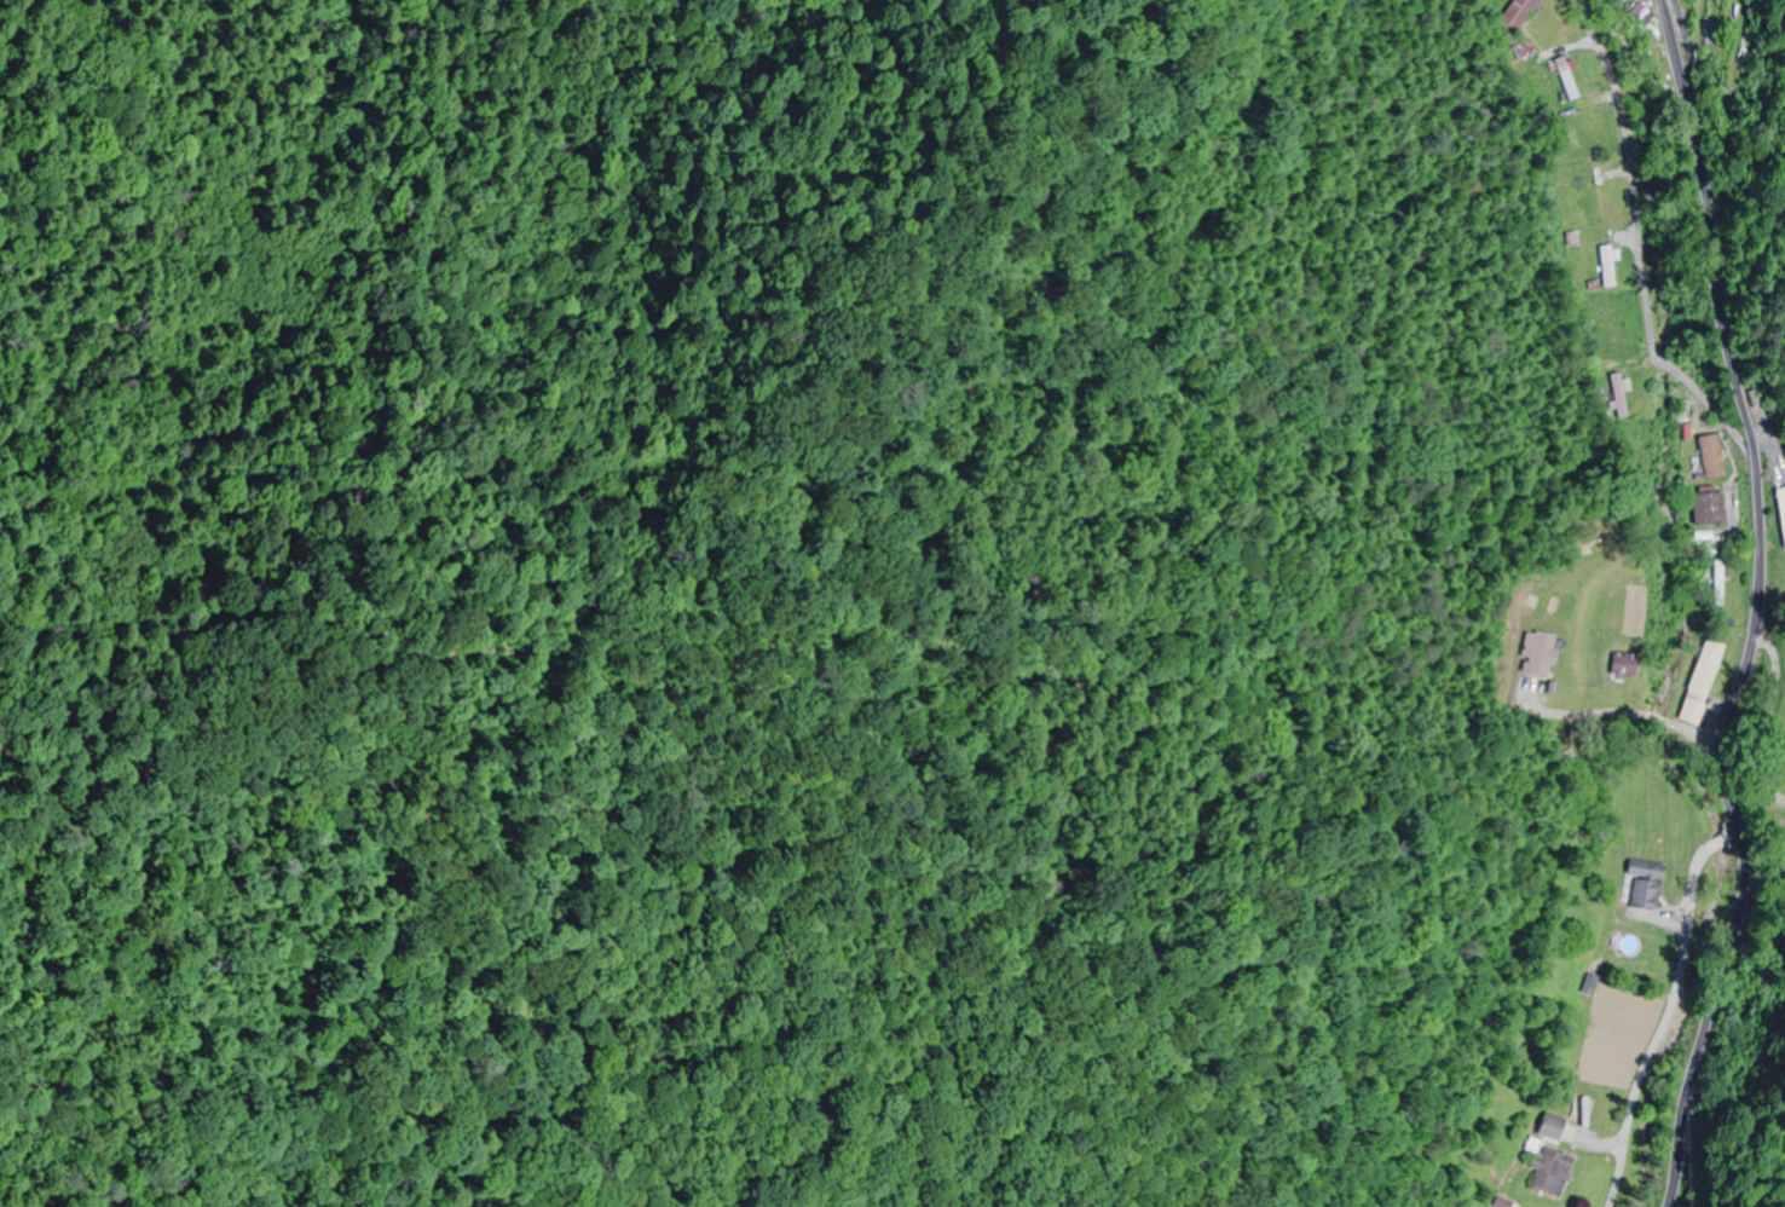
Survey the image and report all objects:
building: (1518, 13)
building: (1634, 16)
building: (1584, 116)
building: (1590, 192)
road: (1635, 236)
building: (1606, 267)
building: (1709, 457)
building: (1783, 502)
building: (1706, 509)
building: (1717, 583)
road: (1758, 606)
building: (1540, 654)
building: (1623, 666)
building: (1700, 683)
building: (1778, 764)
building: (1645, 885)
building: (1552, 1127)
building: (1552, 1173)

